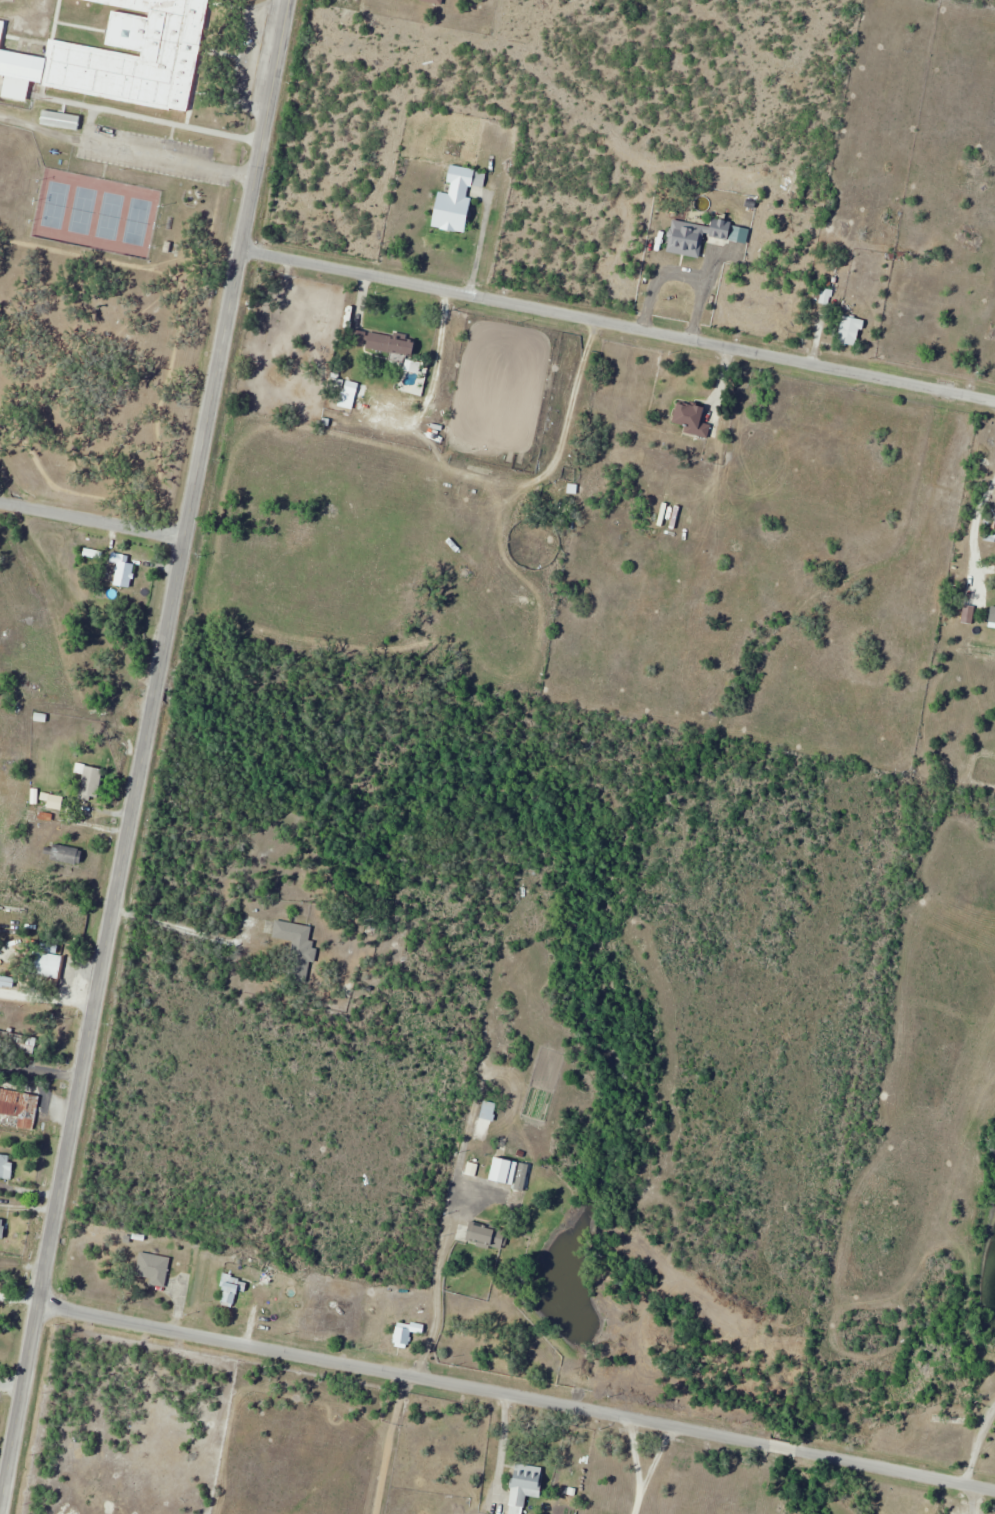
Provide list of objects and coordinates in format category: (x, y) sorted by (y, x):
building: (122, 56)
building: (458, 199)
park: (94, 212)
building: (686, 238)
road: (237, 266)
road: (618, 321)
building: (851, 331)
building: (392, 343)
building: (694, 418)
road: (93, 517)
building: (124, 571)
building: (34, 676)
building: (89, 782)
building: (56, 801)
building: (68, 855)
building: (296, 940)
building: (46, 960)
building: (7, 981)
road: (93, 1020)
building: (4, 1165)
building: (499, 1172)
building: (2, 1227)
building: (490, 1237)
building: (154, 1268)
building: (233, 1290)
building: (407, 1333)
road: (517, 1400)
building: (525, 1486)
road: (971, 1504)

